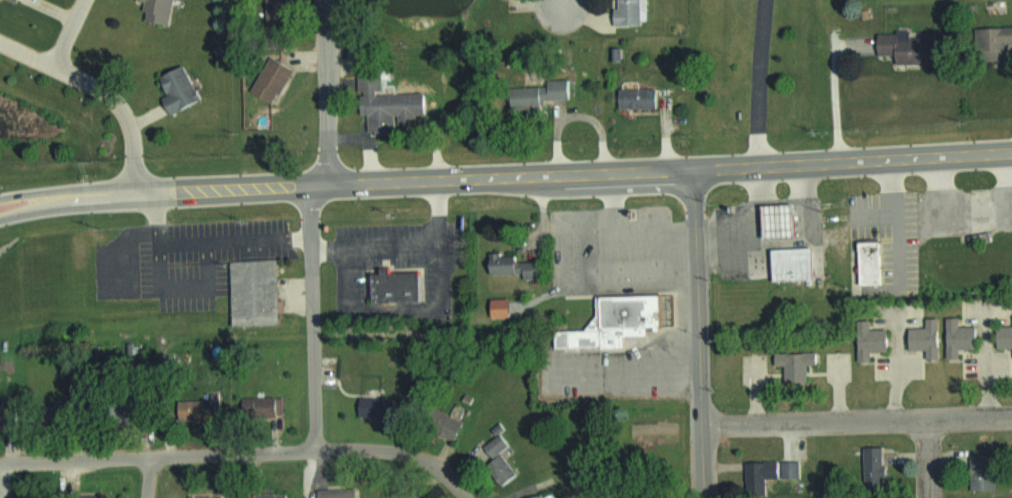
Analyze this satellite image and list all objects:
building: (20, 0)
building: (270, 0)
road: (563, 3)
building: (157, 10)
building: (630, 12)
road: (65, 32)
building: (988, 40)
building: (897, 46)
building: (273, 78)
road: (758, 81)
road: (101, 88)
building: (176, 89)
road: (325, 91)
building: (542, 94)
building: (634, 97)
building: (391, 104)
road: (659, 168)
road: (181, 189)
road: (28, 193)
road: (29, 208)
building: (769, 220)
building: (865, 261)
building: (783, 262)
building: (505, 265)
building: (387, 285)
building: (257, 292)
road: (312, 316)
building: (608, 321)
road: (698, 332)
building: (1003, 335)
building: (952, 336)
building: (920, 337)
building: (864, 339)
building: (788, 363)
road: (985, 364)
building: (263, 403)
building: (365, 406)
building: (206, 410)
road: (856, 421)
building: (439, 424)
road: (241, 453)
building: (494, 458)
road: (928, 458)
building: (869, 468)
building: (978, 470)
building: (754, 475)
road: (148, 477)
building: (333, 493)
building: (264, 494)
building: (206, 495)
building: (411, 495)
building: (541, 495)
building: (100, 496)

